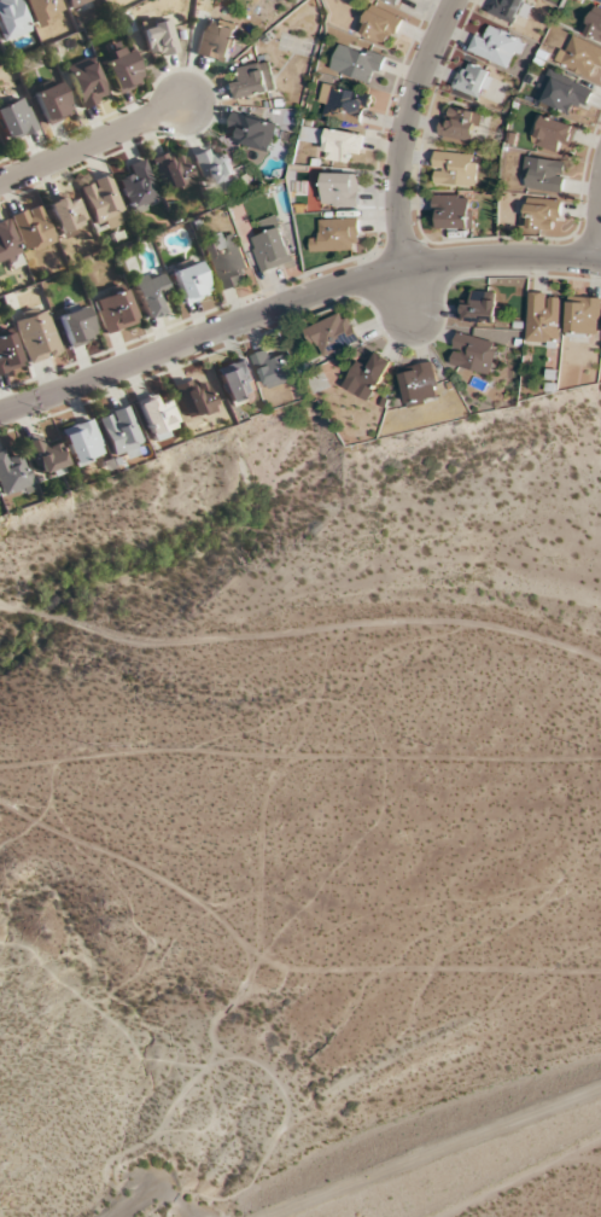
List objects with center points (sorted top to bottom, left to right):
building: (393, 1)
building: (600, 1)
building: (74, 2)
building: (504, 8)
building: (43, 10)
building: (11, 18)
building: (593, 22)
building: (378, 24)
building: (157, 36)
building: (215, 40)
building: (496, 45)
building: (578, 54)
building: (356, 62)
building: (121, 71)
building: (472, 78)
building: (252, 80)
building: (84, 81)
building: (564, 92)
building: (49, 101)
building: (343, 103)
building: (14, 118)
building: (457, 124)
building: (250, 130)
building: (552, 135)
road: (94, 144)
building: (340, 144)
road: (403, 151)
building: (210, 165)
building: (453, 167)
building: (170, 168)
building: (543, 173)
building: (138, 185)
building: (339, 188)
building: (100, 202)
building: (450, 211)
building: (541, 212)
building: (65, 214)
building: (30, 227)
building: (7, 245)
building: (269, 249)
road: (600, 254)
building: (224, 260)
building: (188, 280)
building: (148, 292)
road: (292, 301)
building: (480, 309)
building: (112, 310)
building: (582, 314)
building: (542, 316)
building: (75, 325)
building: (331, 333)
building: (35, 334)
building: (8, 353)
building: (472, 353)
building: (270, 368)
building: (367, 375)
building: (234, 380)
building: (418, 383)
building: (189, 396)
building: (153, 417)
building: (116, 431)
building: (78, 439)
building: (43, 458)
building: (11, 473)
park: (307, 825)

